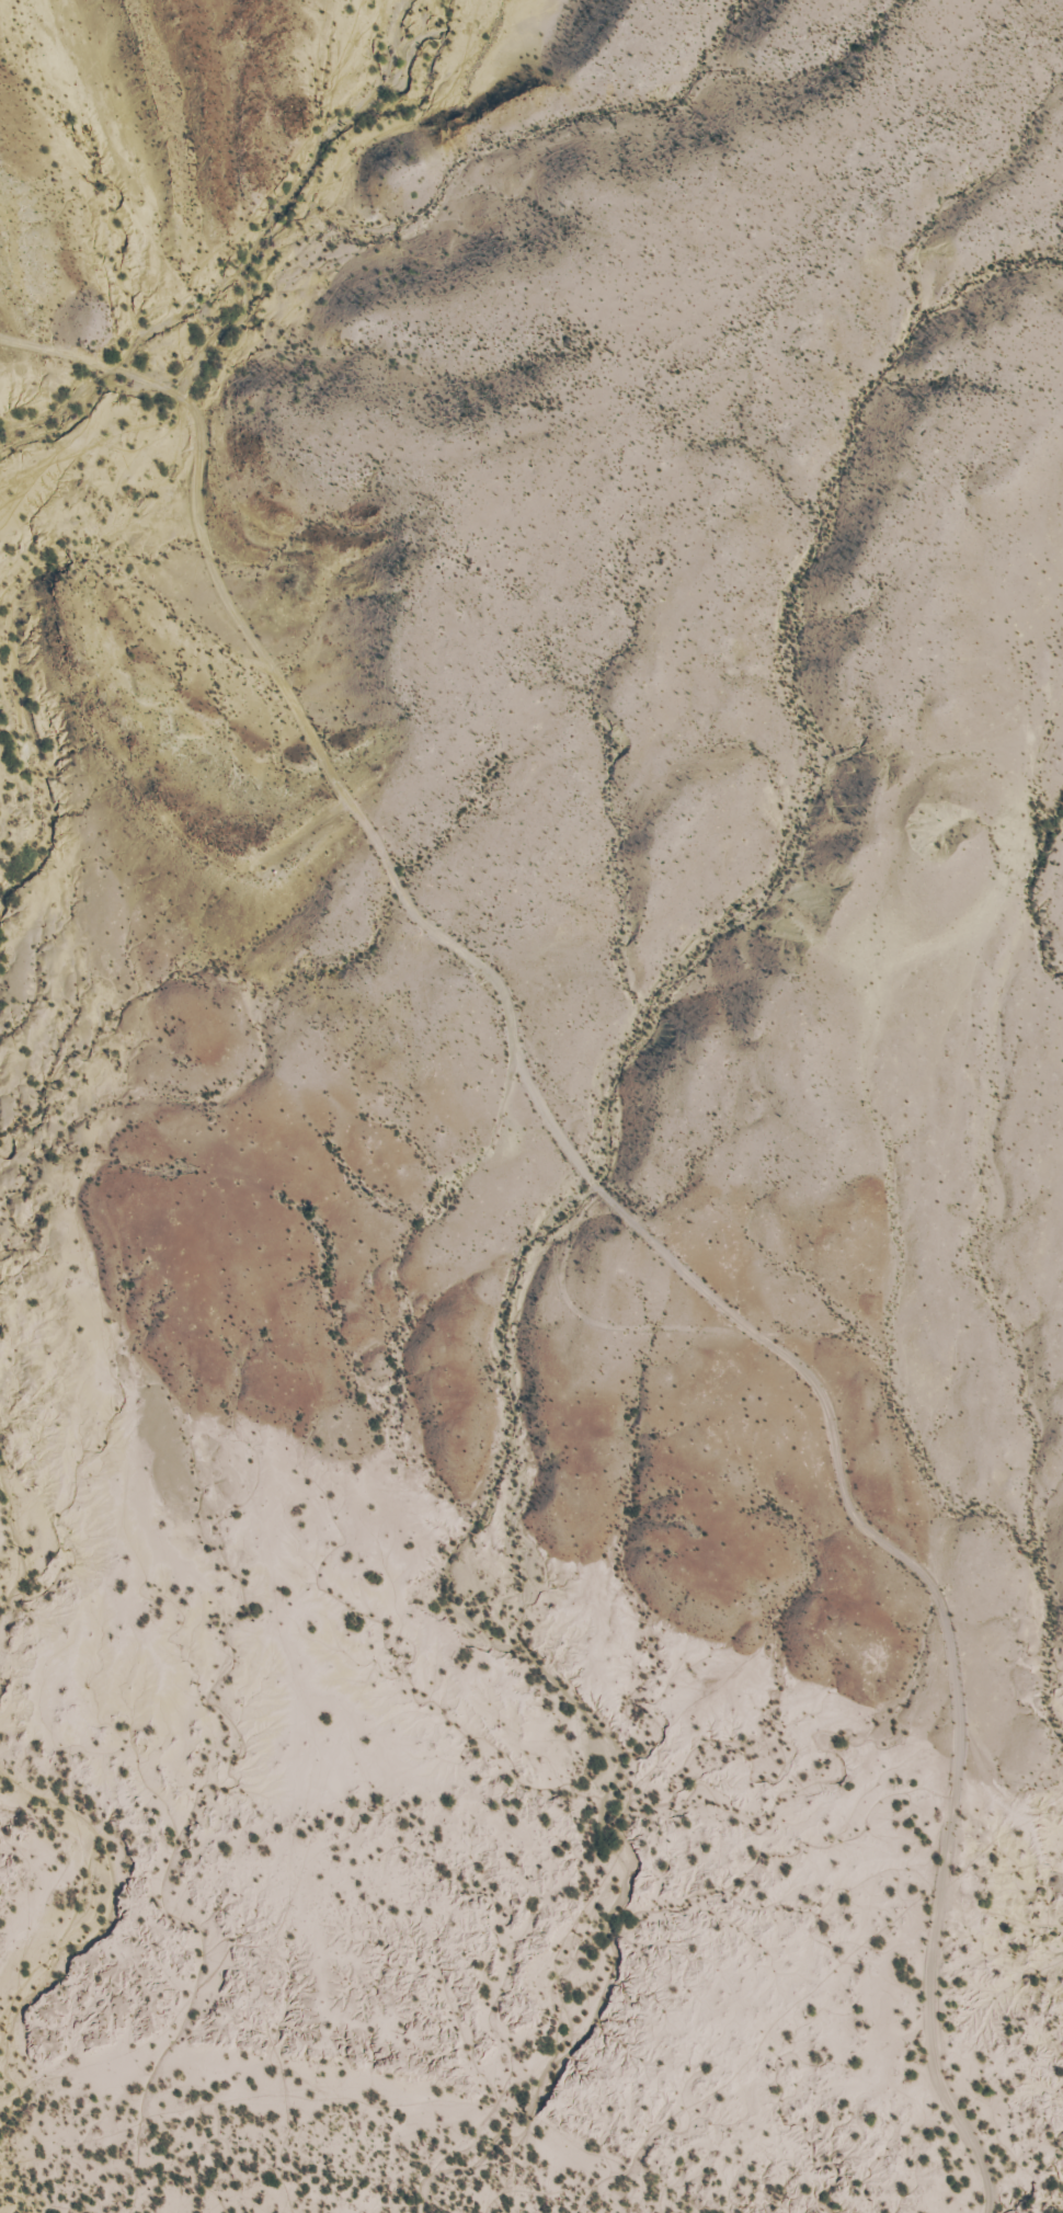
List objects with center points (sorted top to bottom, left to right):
road: (626, 1206)

